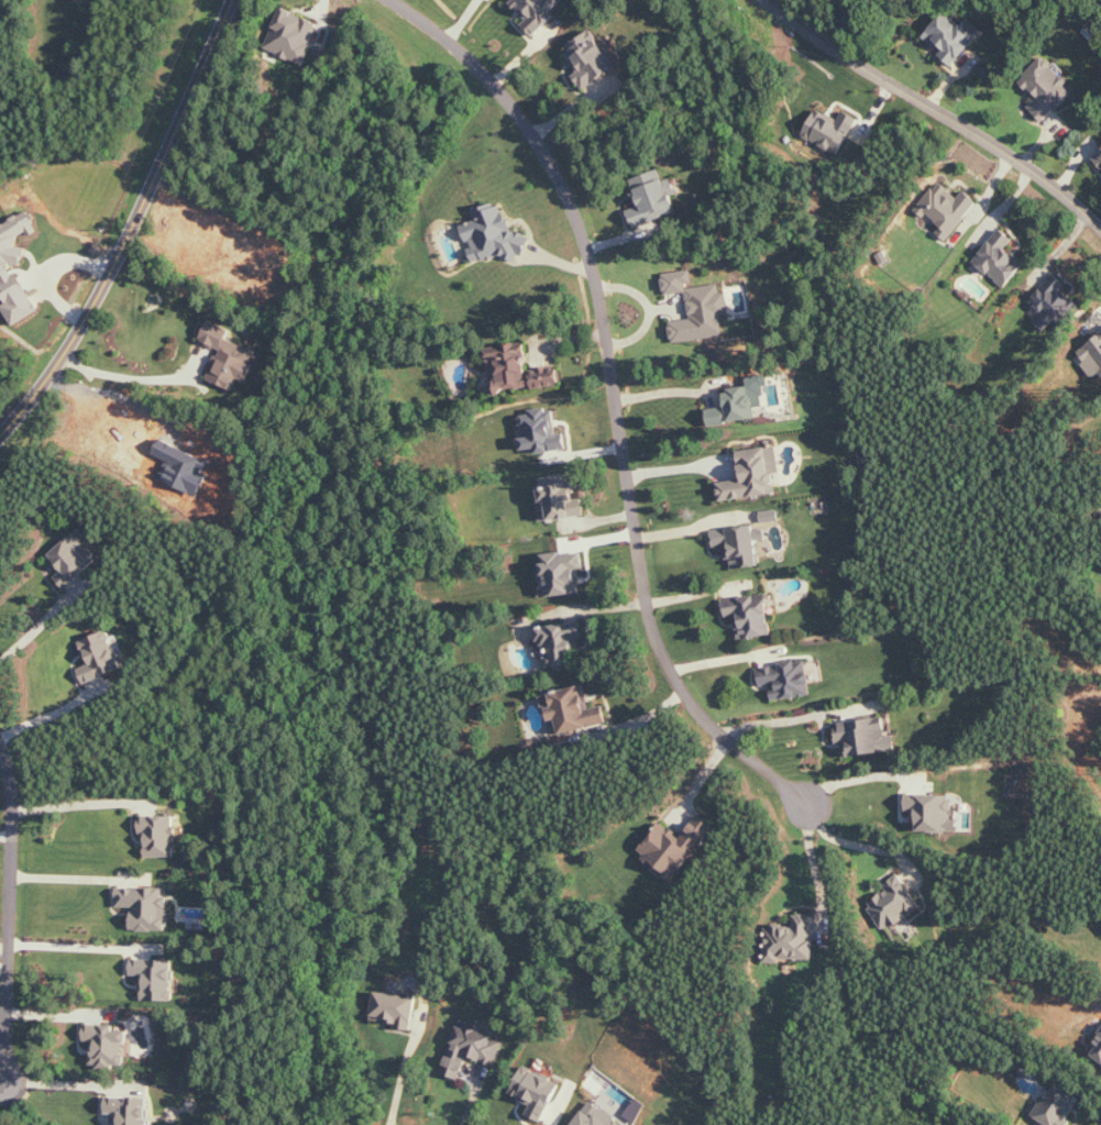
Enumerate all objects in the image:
building: (536, 13)
building: (293, 36)
building: (950, 38)
building: (590, 58)
building: (1047, 88)
road: (940, 112)
building: (830, 130)
building: (1098, 158)
building: (651, 198)
building: (947, 209)
road: (131, 223)
building: (493, 235)
building: (1000, 260)
building: (5, 268)
building: (1054, 304)
building: (697, 308)
building: (230, 356)
building: (518, 370)
road: (135, 378)
road: (616, 398)
building: (741, 401)
building: (542, 431)
road: (679, 466)
building: (755, 475)
building: (562, 497)
building: (771, 516)
building: (739, 545)
building: (75, 558)
building: (564, 573)
building: (751, 615)
road: (41, 624)
building: (561, 642)
building: (100, 657)
building: (788, 680)
road: (55, 712)
building: (573, 712)
road: (634, 723)
building: (866, 737)
road: (81, 802)
building: (932, 813)
road: (5, 835)
building: (161, 835)
road: (860, 846)
building: (674, 847)
road: (815, 865)
road: (79, 878)
building: (893, 903)
building: (146, 907)
road: (10, 909)
building: (791, 939)
road: (75, 944)
road: (4, 946)
building: (155, 979)
building: (396, 1008)
road: (60, 1014)
building: (107, 1045)
building: (473, 1048)
road: (404, 1063)
road: (67, 1081)
road: (2, 1082)
building: (537, 1092)
building: (1057, 1105)

